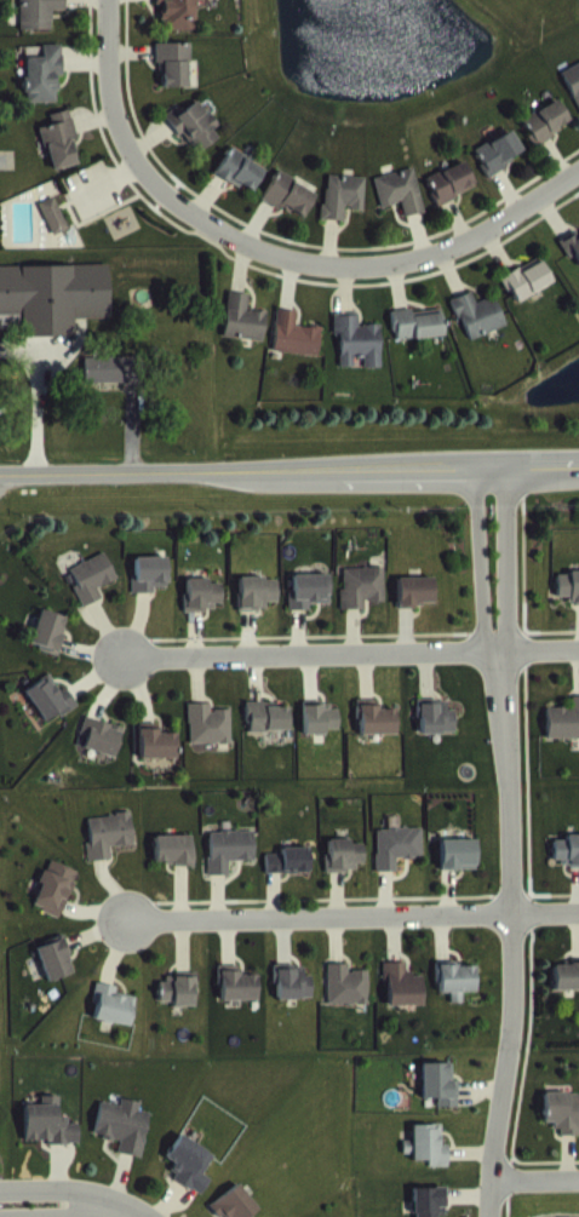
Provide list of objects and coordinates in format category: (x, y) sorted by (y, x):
building: (178, 23)
building: (40, 25)
building: (173, 81)
building: (42, 93)
building: (573, 98)
building: (546, 139)
building: (195, 143)
building: (61, 160)
building: (499, 171)
building: (240, 189)
building: (451, 201)
road: (176, 205)
building: (401, 209)
building: (288, 213)
building: (343, 214)
road: (487, 224)
building: (53, 234)
building: (572, 264)
building: (528, 298)
building: (52, 316)
building: (478, 333)
building: (243, 337)
building: (417, 343)
building: (296, 354)
building: (357, 360)
building: (104, 388)
road: (289, 466)
building: (150, 592)
building: (93, 596)
building: (568, 603)
building: (363, 604)
building: (310, 609)
building: (417, 610)
building: (258, 612)
building: (203, 613)
building: (48, 649)
road: (349, 653)
building: (51, 716)
building: (268, 735)
building: (437, 735)
building: (320, 736)
building: (377, 737)
building: (563, 740)
building: (210, 742)
building: (102, 754)
building: (156, 760)
road: (509, 840)
building: (109, 853)
building: (397, 865)
building: (229, 867)
building: (173, 868)
building: (567, 869)
building: (458, 872)
building: (344, 873)
building: (288, 879)
building: (55, 906)
road: (351, 914)
building: (56, 977)
building: (567, 994)
building: (457, 998)
building: (293, 1001)
building: (237, 1003)
building: (348, 1003)
building: (403, 1004)
building: (178, 1009)
building: (113, 1023)
building: (440, 1102)
building: (563, 1130)
building: (48, 1141)
building: (124, 1143)
building: (430, 1163)
road: (537, 1177)
building: (189, 1182)
road: (47, 1189)
road: (108, 1210)
building: (235, 1211)
building: (431, 1211)
road: (51, 1215)

